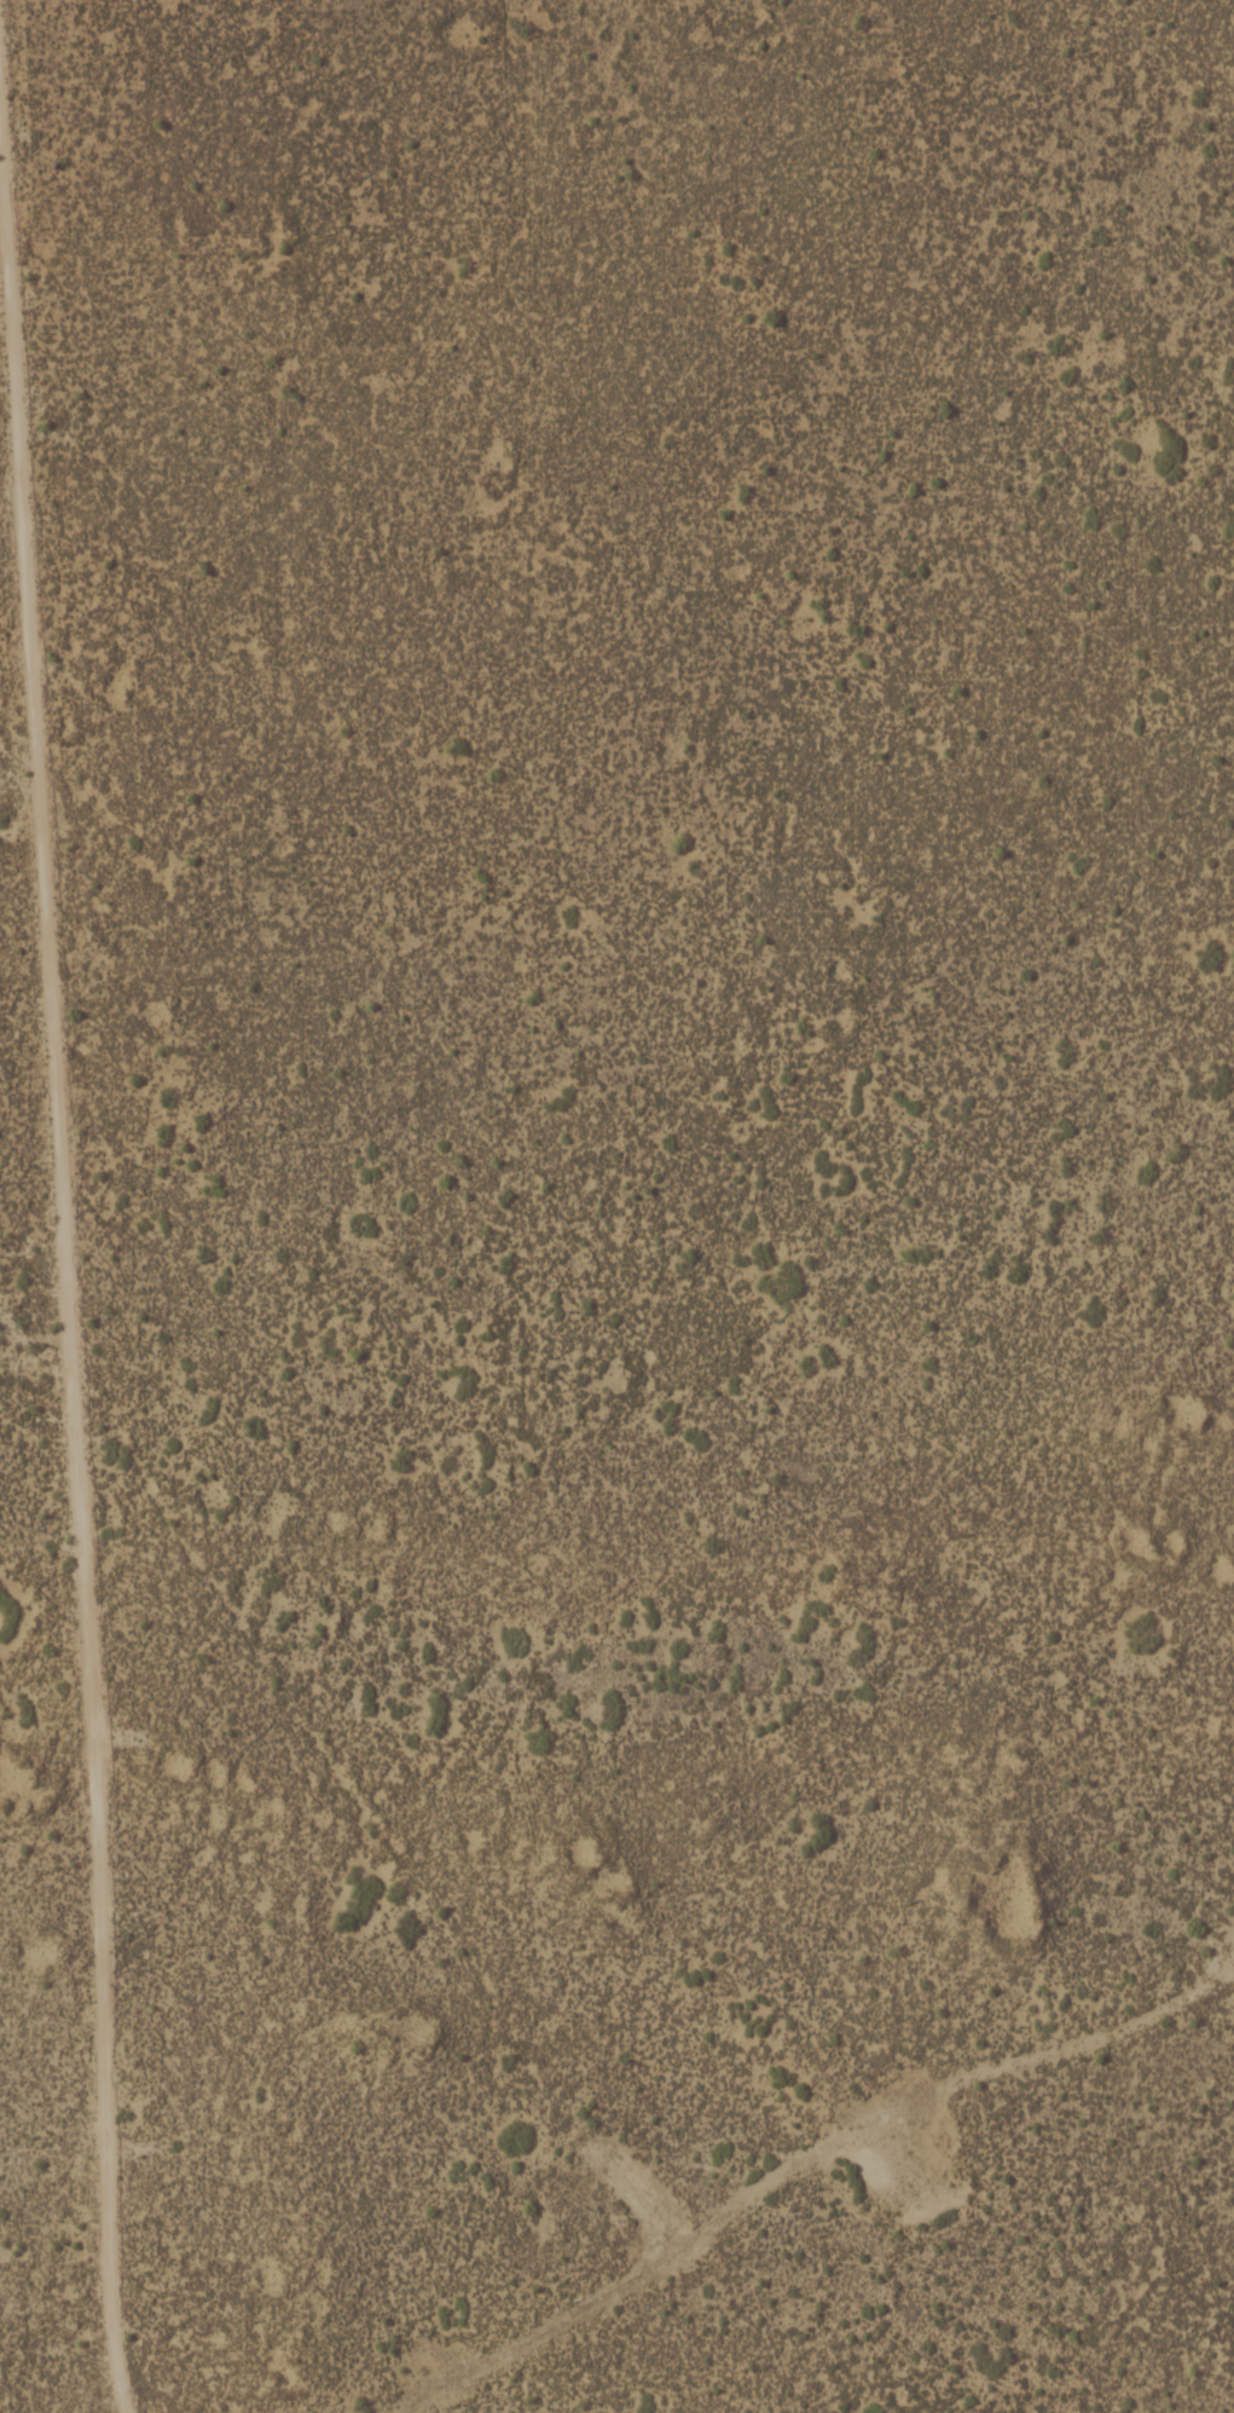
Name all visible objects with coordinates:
road: (62, 1322)

